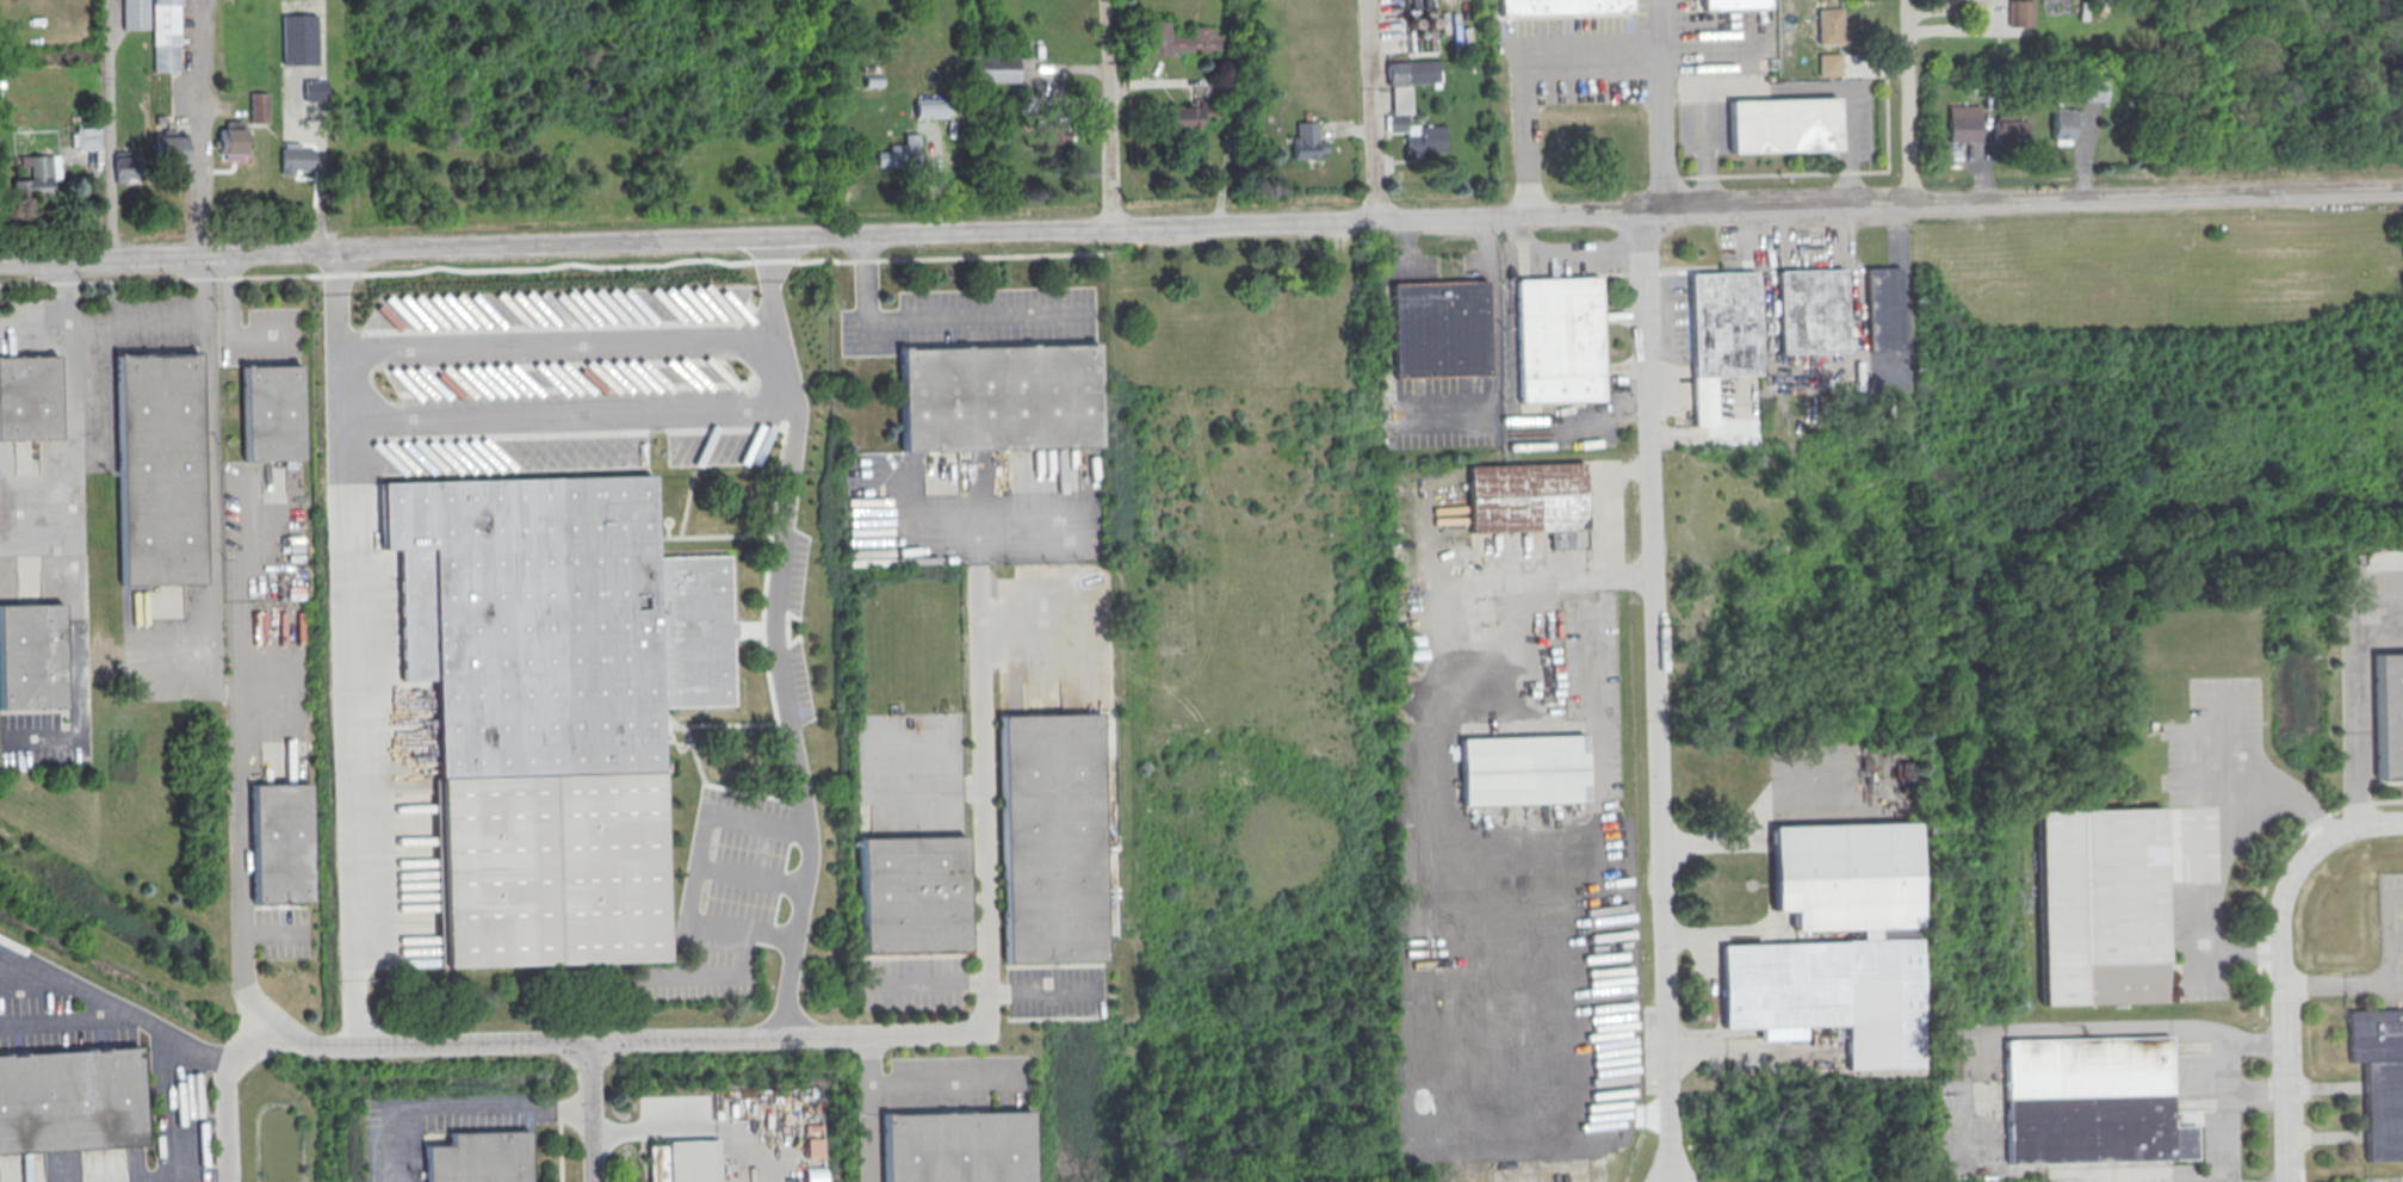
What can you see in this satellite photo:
building: (1733, 4)
building: (1560, 6)
building: (2020, 13)
building: (135, 14)
building: (1828, 26)
building: (166, 35)
building: (1173, 36)
building: (299, 38)
building: (1828, 64)
building: (995, 68)
road: (1522, 68)
building: (1413, 72)
building: (315, 91)
road: (1776, 91)
building: (2095, 91)
road: (1906, 103)
road: (1661, 107)
building: (259, 109)
building: (929, 110)
road: (1365, 110)
building: (1142, 112)
road: (1104, 113)
building: (1187, 116)
building: (2066, 123)
building: (1782, 125)
building: (1963, 125)
road: (196, 128)
road: (110, 134)
building: (2009, 134)
building: (1054, 135)
building: (1418, 136)
building: (88, 140)
building: (1307, 141)
building: (233, 144)
building: (172, 148)
building: (903, 150)
building: (296, 160)
building: (128, 166)
building: (38, 177)
road: (1201, 224)
road: (769, 286)
road: (340, 299)
building: (1883, 310)
building: (1810, 311)
road: (930, 317)
parking lot: (970, 318)
road: (136, 321)
building: (1723, 324)
road: (229, 328)
building: (1439, 329)
building: (1559, 340)
road: (562, 341)
road: (1493, 342)
building: (29, 397)
building: (998, 397)
building: (272, 413)
road: (571, 417)
road: (343, 457)
road: (206, 465)
building: (159, 468)
road: (791, 476)
building: (1529, 501)
road: (76, 534)
building: (1463, 553)
building: (31, 656)
road: (2352, 685)
road: (1656, 697)
building: (550, 704)
building: (2389, 714)
building: (1522, 771)
road: (349, 806)
road: (983, 806)
road: (810, 825)
building: (1051, 838)
building: (280, 843)
road: (239, 860)
road: (698, 872)
building: (1845, 877)
building: (912, 895)
building: (2101, 905)
road: (2278, 963)
road: (2341, 986)
building: (1829, 994)
road: (118, 1022)
road: (2074, 1028)
road: (665, 1038)
building: (2380, 1078)
road: (911, 1084)
road: (225, 1089)
building: (2092, 1100)
building: (69, 1101)
road: (2228, 1107)
road: (173, 1108)
road: (465, 1108)
road: (588, 1112)
road: (558, 1114)
road: (693, 1126)
building: (955, 1146)
road: (558, 1151)
building: (476, 1157)
building: (681, 1161)

